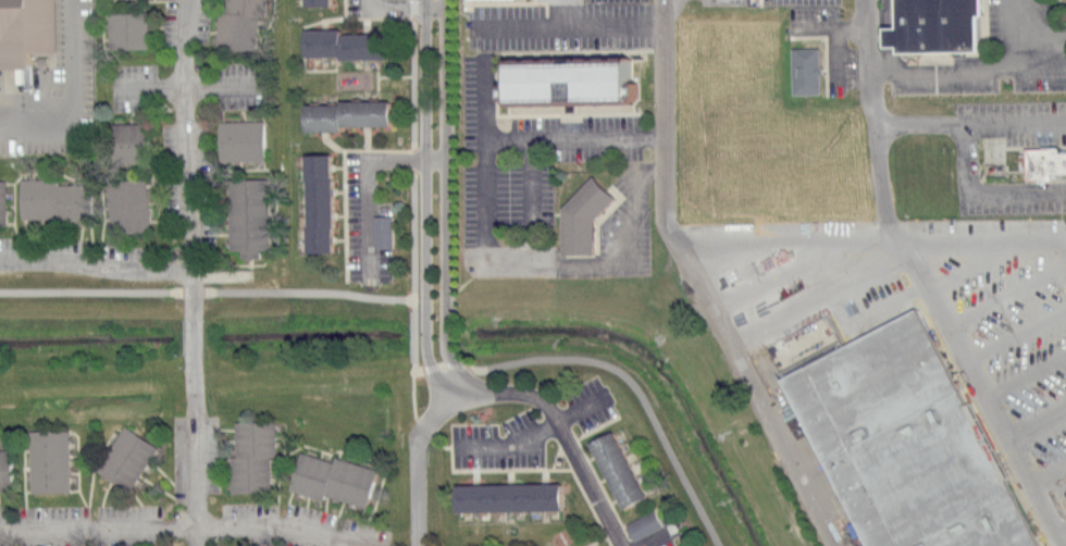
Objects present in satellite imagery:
building: (492, 0)
building: (319, 2)
road: (1063, 3)
road: (345, 9)
road: (388, 9)
road: (560, 12)
road: (370, 16)
building: (243, 24)
road: (575, 25)
road: (833, 25)
building: (940, 25)
road: (1050, 26)
building: (131, 29)
building: (26, 30)
road: (1007, 33)
road: (892, 35)
building: (349, 45)
road: (839, 59)
road: (969, 67)
building: (809, 70)
road: (391, 75)
park: (347, 79)
road: (483, 80)
building: (570, 80)
road: (379, 83)
road: (185, 87)
road: (69, 97)
road: (666, 112)
building: (348, 114)
road: (876, 120)
road: (1012, 122)
road: (917, 124)
road: (367, 137)
road: (574, 137)
building: (244, 140)
road: (994, 141)
building: (131, 142)
road: (1037, 146)
road: (362, 150)
road: (962, 158)
building: (1045, 162)
road: (338, 165)
road: (1059, 178)
road: (364, 179)
road: (412, 184)
road: (988, 186)
road: (339, 189)
road: (1016, 193)
road: (445, 196)
road: (424, 200)
building: (58, 201)
building: (4, 202)
building: (321, 202)
building: (129, 207)
building: (249, 214)
road: (339, 214)
road: (345, 214)
building: (584, 219)
building: (384, 232)
road: (339, 237)
road: (870, 239)
road: (1063, 239)
road: (508, 256)
road: (96, 264)
road: (193, 272)
road: (206, 290)
road: (616, 370)
road: (751, 384)
road: (976, 392)
road: (414, 394)
road: (1033, 421)
road: (537, 431)
road: (566, 431)
building: (903, 442)
parking lot: (1043, 443)
road: (27, 449)
road: (75, 455)
building: (255, 456)
road: (556, 457)
road: (592, 457)
building: (128, 458)
building: (52, 461)
road: (418, 461)
road: (23, 464)
road: (27, 466)
road: (591, 466)
road: (77, 468)
building: (7, 469)
road: (532, 469)
building: (620, 470)
road: (75, 471)
road: (511, 475)
road: (545, 475)
road: (476, 476)
road: (604, 477)
building: (337, 479)
park: (413, 480)
road: (76, 488)
road: (28, 489)
building: (511, 496)
building: (640, 524)
road: (173, 528)
road: (655, 537)
road: (595, 541)

